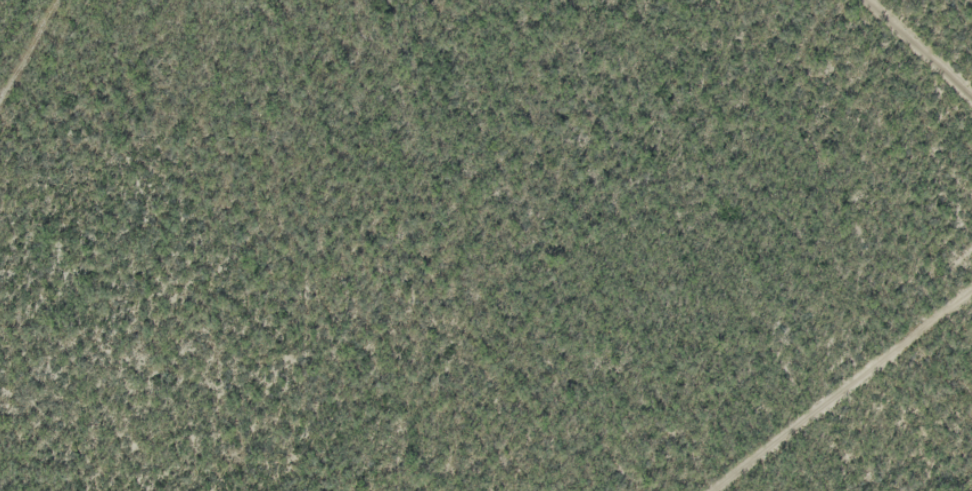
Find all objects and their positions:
road: (921, 46)

